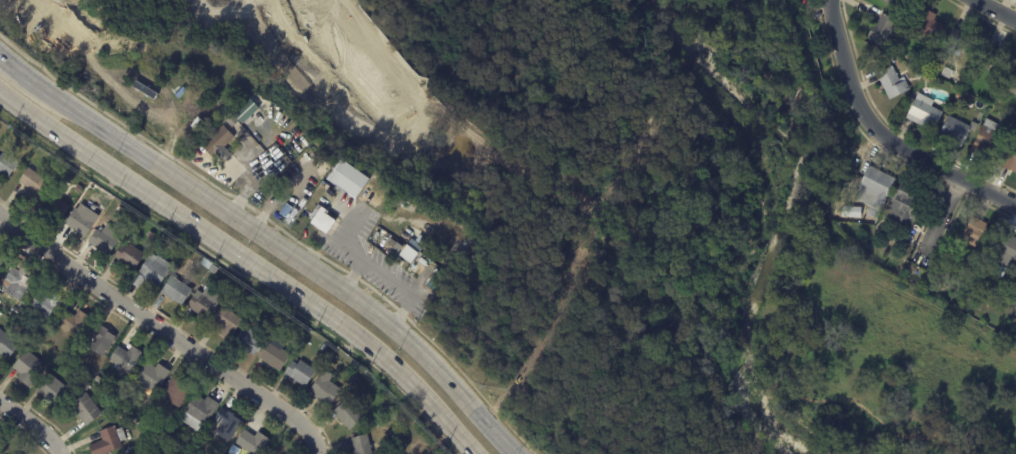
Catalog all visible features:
building: (792, 1)
building: (890, 2)
road: (995, 10)
building: (927, 27)
building: (883, 32)
building: (963, 44)
building: (996, 61)
road: (13, 63)
building: (918, 67)
building: (1013, 73)
building: (918, 77)
building: (927, 81)
building: (892, 85)
building: (1012, 85)
building: (246, 113)
building: (924, 115)
building: (956, 134)
road: (883, 136)
building: (988, 141)
building: (218, 143)
building: (1011, 162)
building: (6, 165)
building: (350, 181)
building: (33, 182)
building: (875, 189)
building: (88, 194)
building: (53, 206)
building: (904, 208)
building: (851, 217)
building: (322, 220)
road: (939, 220)
building: (79, 221)
building: (977, 234)
building: (150, 236)
building: (104, 238)
building: (160, 241)
road: (282, 249)
building: (413, 250)
building: (461, 250)
building: (1006, 250)
road: (350, 251)
building: (128, 256)
building: (2, 260)
road: (247, 260)
building: (213, 268)
building: (153, 271)
building: (1000, 271)
building: (18, 282)
building: (437, 282)
building: (1006, 286)
building: (176, 289)
road: (405, 289)
building: (204, 302)
building: (44, 303)
building: (230, 303)
building: (71, 322)
building: (227, 322)
building: (283, 323)
building: (16, 329)
road: (163, 333)
building: (100, 338)
building: (250, 339)
building: (36, 340)
building: (6, 345)
building: (323, 348)
building: (275, 352)
building: (125, 358)
building: (27, 367)
building: (300, 371)
building: (77, 373)
building: (151, 374)
building: (99, 380)
building: (85, 386)
building: (50, 388)
building: (325, 389)
building: (177, 390)
building: (84, 409)
building: (198, 411)
building: (348, 414)
building: (226, 424)
road: (33, 425)
building: (107, 440)
building: (252, 441)
building: (361, 444)
building: (187, 445)
building: (234, 449)
building: (182, 453)

